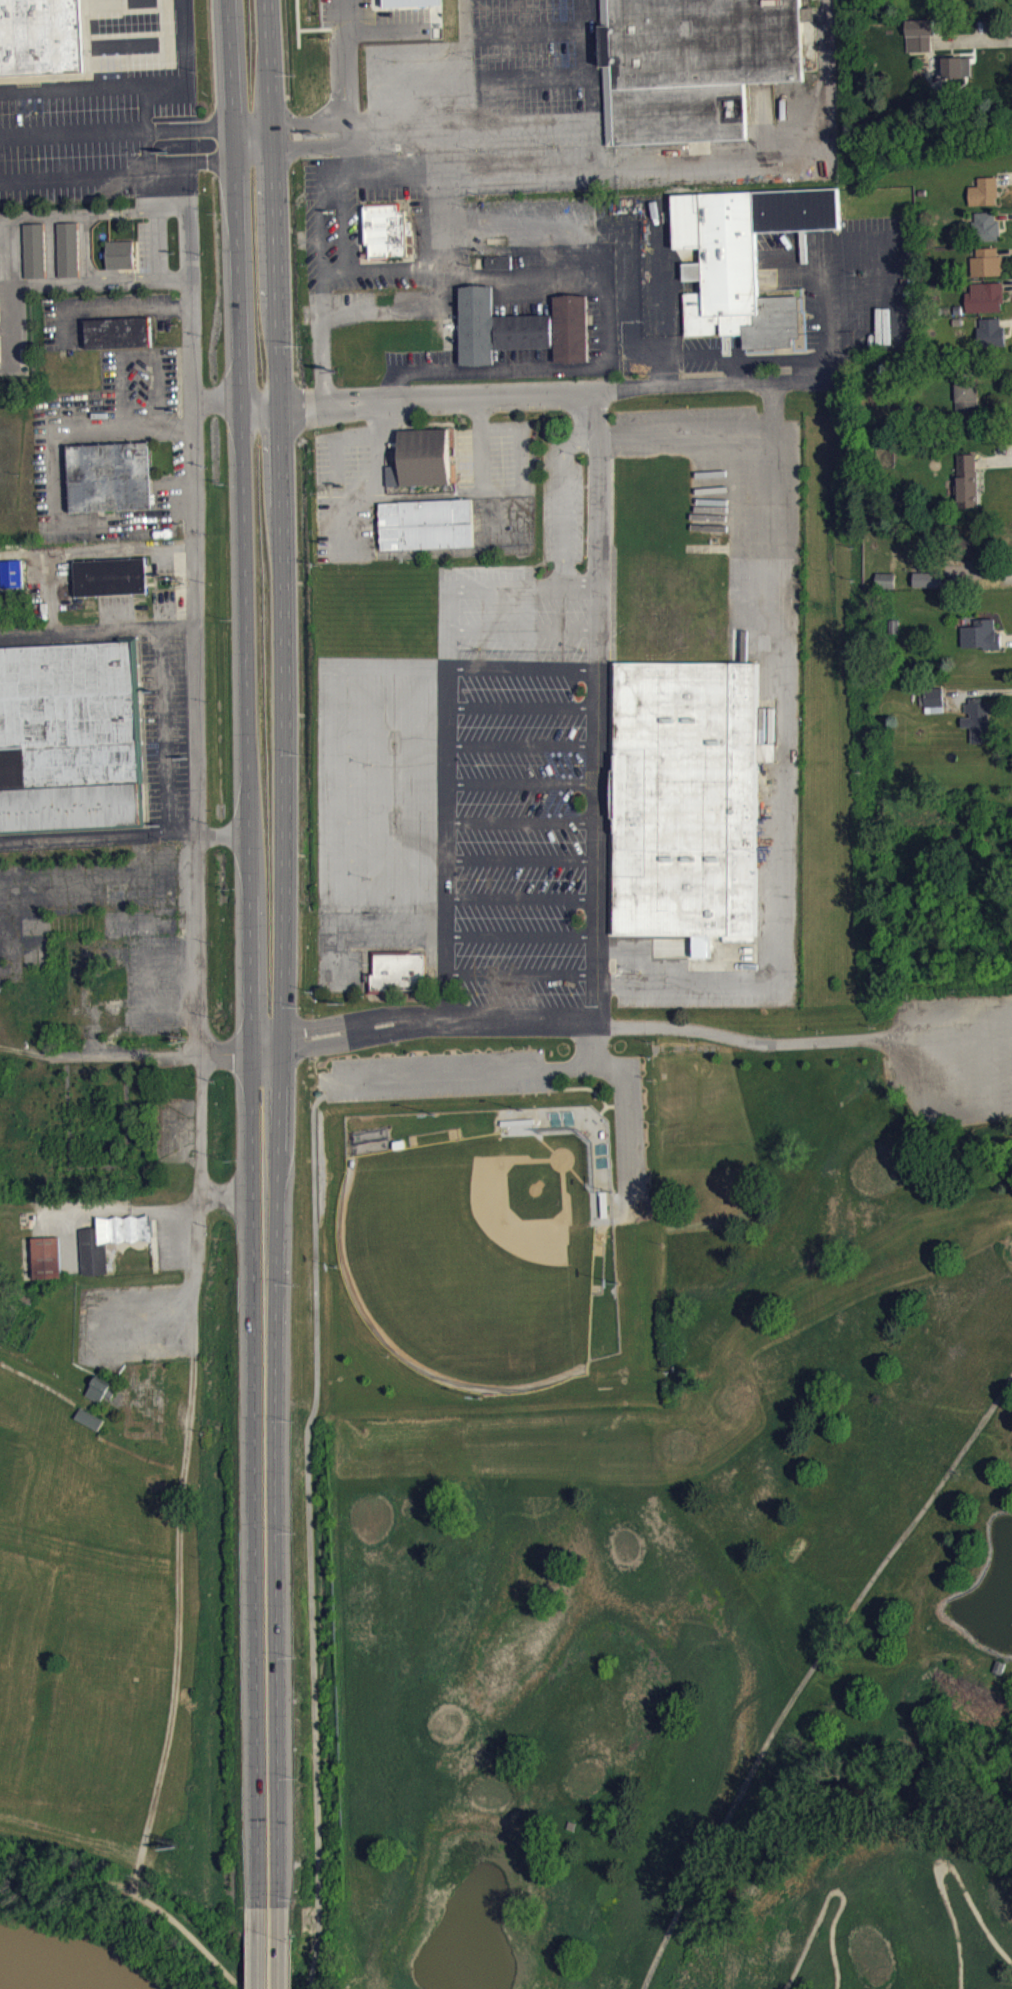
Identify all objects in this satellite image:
building: (407, 4)
building: (40, 36)
building: (920, 42)
building: (700, 63)
building: (958, 74)
road: (315, 132)
road: (74, 138)
road: (148, 149)
road: (256, 153)
road: (316, 154)
building: (985, 199)
building: (987, 234)
building: (386, 238)
road: (321, 252)
road: (8, 255)
building: (68, 256)
building: (34, 257)
building: (745, 259)
building: (120, 261)
building: (499, 269)
building: (987, 269)
building: (986, 305)
road: (115, 314)
building: (521, 327)
building: (0, 328)
building: (118, 332)
building: (992, 340)
building: (0, 361)
road: (605, 400)
road: (239, 408)
building: (967, 408)
building: (424, 456)
building: (109, 475)
road: (56, 484)
building: (968, 488)
building: (425, 523)
road: (195, 529)
road: (77, 555)
building: (110, 575)
building: (13, 581)
building: (886, 587)
road: (245, 597)
road: (127, 634)
road: (26, 640)
building: (980, 640)
building: (932, 704)
road: (598, 713)
building: (68, 737)
road: (166, 749)
building: (689, 797)
road: (86, 835)
road: (281, 952)
road: (194, 968)
building: (399, 980)
road: (598, 1024)
road: (593, 1044)
road: (543, 1066)
parking lot: (508, 1091)
road: (201, 1146)
park: (481, 1228)
building: (111, 1237)
park: (474, 1255)
building: (47, 1256)
parking lot: (133, 1323)
building: (101, 1387)
building: (102, 1396)
building: (90, 1416)
building: (91, 1426)
road: (309, 1529)
road: (256, 1551)
park: (713, 1579)
park: (79, 1631)
road: (809, 1671)
road: (939, 1865)
road: (830, 1890)
road: (137, 1895)
road: (260, 1947)
road: (280, 1947)
river: (1, 1988)

